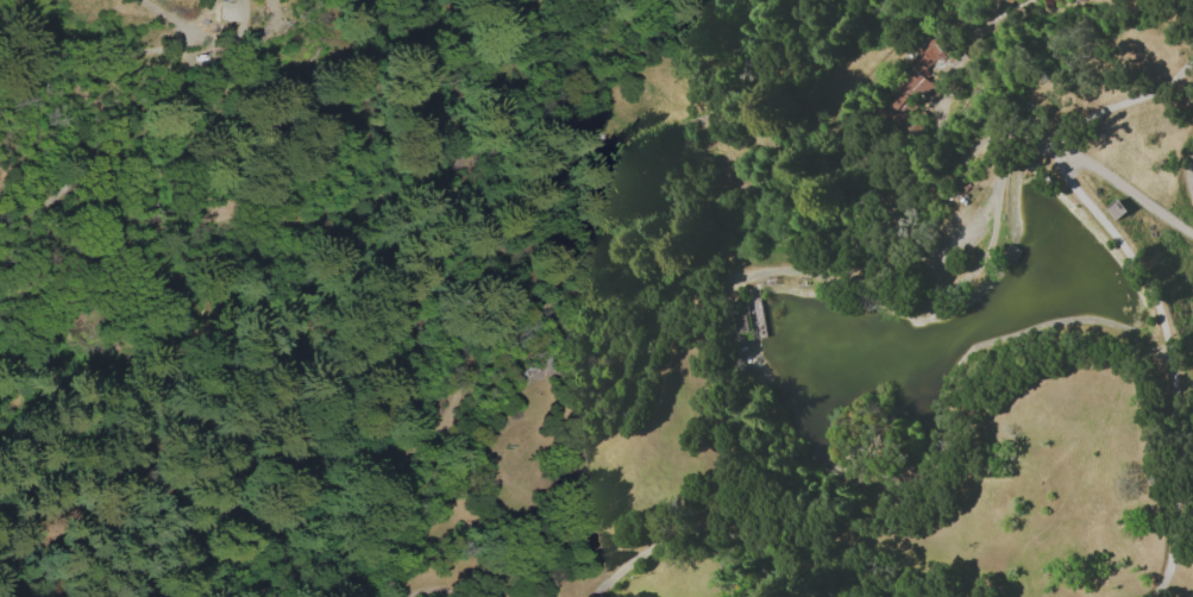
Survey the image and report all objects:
building: (924, 69)
road: (1186, 168)
road: (1129, 188)
road: (40, 237)
road: (1147, 282)
road: (708, 560)

